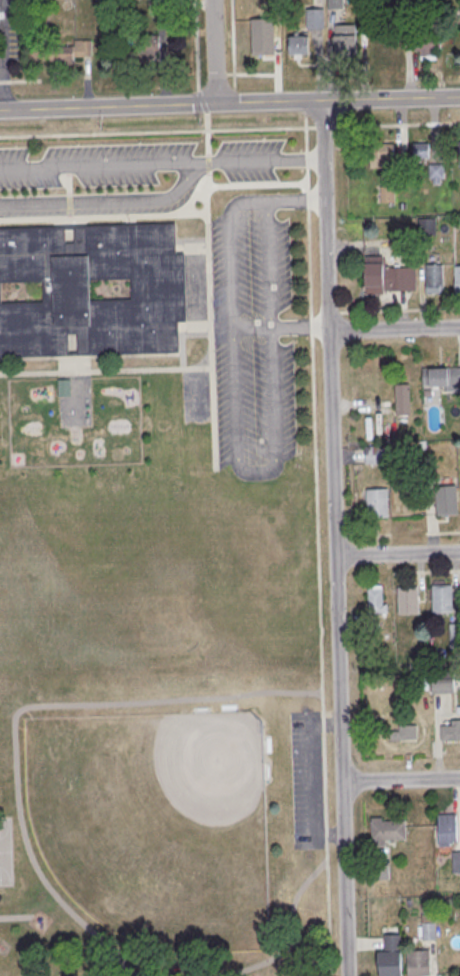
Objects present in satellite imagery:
building: (335, 3)
building: (315, 18)
parking lot: (10, 31)
building: (263, 37)
building: (346, 41)
building: (146, 46)
building: (297, 46)
building: (426, 46)
building: (66, 52)
road: (214, 52)
road: (197, 57)
road: (2, 63)
road: (26, 81)
road: (5, 82)
road: (229, 103)
road: (397, 124)
road: (324, 126)
road: (156, 131)
building: (459, 150)
building: (422, 151)
building: (381, 155)
road: (161, 162)
building: (436, 172)
building: (388, 195)
road: (295, 199)
road: (105, 200)
road: (307, 214)
building: (427, 228)
building: (388, 278)
building: (435, 280)
building: (457, 281)
building: (159, 291)
road: (400, 309)
road: (334, 311)
road: (310, 325)
road: (280, 326)
road: (394, 330)
parking lot: (228, 345)
building: (445, 379)
building: (403, 400)
road: (330, 441)
building: (373, 454)
road: (240, 465)
building: (427, 469)
building: (446, 502)
building: (378, 504)
road: (316, 513)
road: (397, 554)
building: (442, 600)
building: (409, 601)
building: (377, 602)
building: (443, 683)
park: (161, 730)
building: (405, 734)
building: (450, 734)
road: (15, 748)
road: (400, 780)
parking lot: (306, 781)
park: (155, 823)
building: (448, 831)
building: (388, 833)
park: (6, 851)
building: (456, 861)
road: (344, 879)
road: (327, 918)
building: (428, 930)
building: (419, 963)
building: (391, 964)

